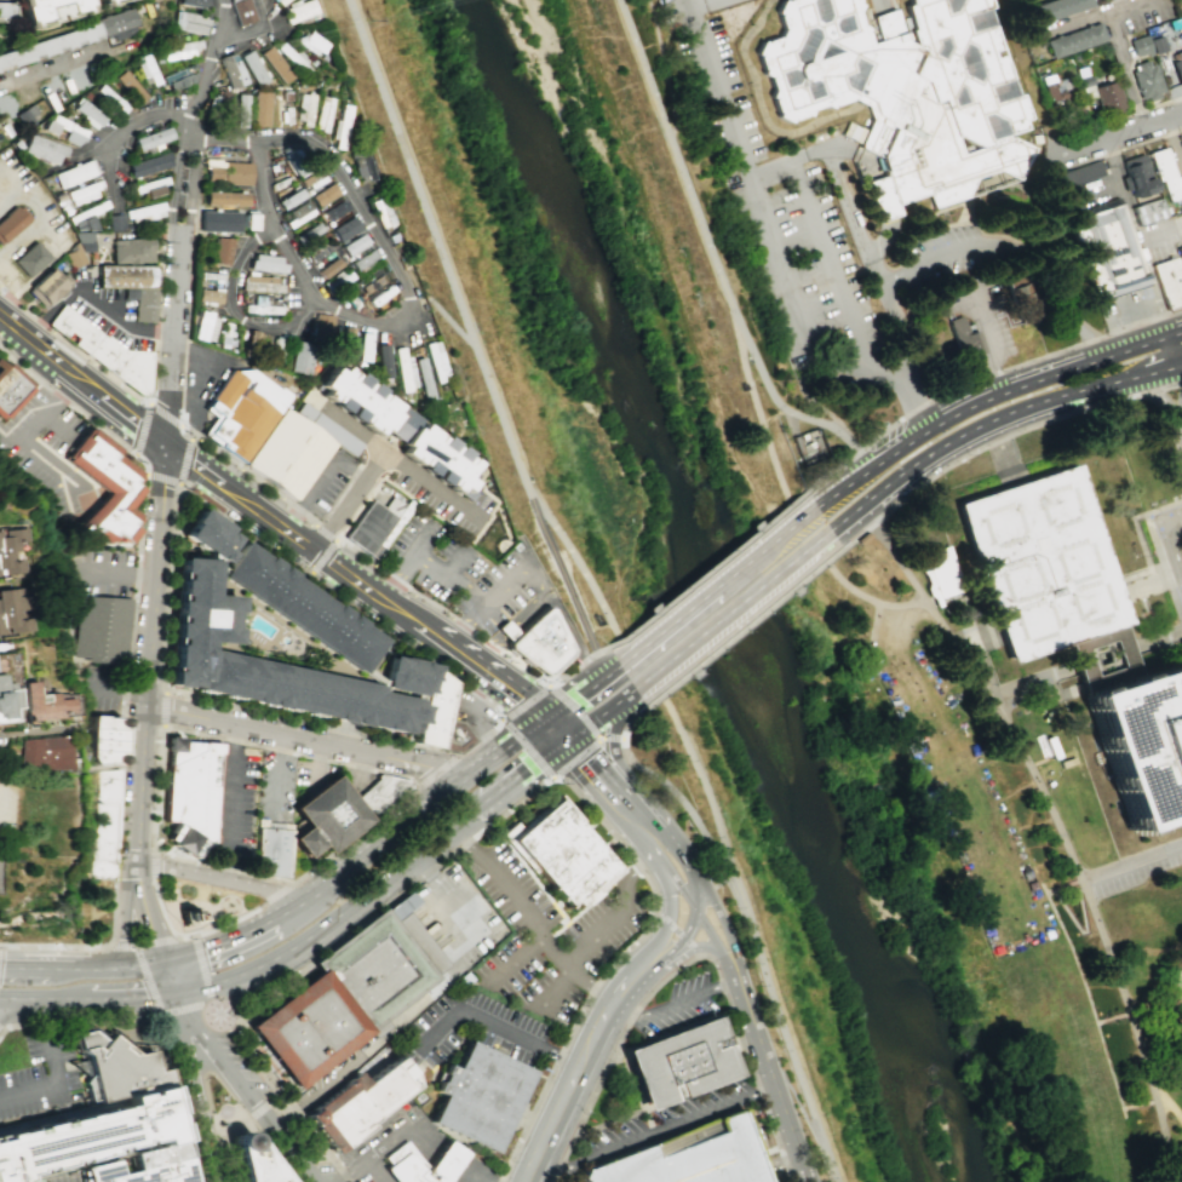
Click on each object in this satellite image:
building: (1107, 0)
building: (280, 1)
road: (699, 1)
building: (114, 2)
building: (194, 2)
road: (896, 2)
parking lot: (1181, 2)
road: (883, 6)
road: (1126, 6)
building: (1060, 8)
building: (299, 10)
building: (241, 11)
building: (8, 12)
building: (57, 12)
building: (189, 22)
building: (82, 35)
building: (1075, 39)
road: (1115, 40)
road: (222, 41)
building: (311, 42)
building: (1138, 45)
building: (1157, 45)
building: (180, 48)
building: (275, 63)
road: (51, 65)
building: (1177, 65)
building: (252, 67)
building: (145, 69)
building: (231, 69)
road: (662, 69)
building: (1144, 79)
building: (127, 86)
road: (723, 86)
building: (1055, 92)
building: (907, 93)
building: (1107, 97)
building: (260, 108)
building: (305, 108)
building: (241, 110)
road: (1141, 110)
building: (323, 113)
building: (86, 114)
building: (28, 117)
building: (340, 127)
building: (65, 130)
road: (121, 132)
road: (188, 132)
building: (853, 133)
road: (1118, 133)
building: (150, 139)
road: (1172, 145)
building: (41, 149)
road: (1117, 149)
road: (348, 159)
road: (1112, 161)
building: (148, 163)
building: (362, 165)
building: (228, 172)
building: (74, 173)
building: (1164, 173)
building: (314, 178)
road: (1104, 190)
building: (85, 191)
building: (322, 194)
road: (847, 195)
building: (224, 197)
building: (289, 197)
building: (334, 210)
building: (1148, 210)
building: (143, 212)
building: (298, 212)
building: (381, 212)
road: (1129, 213)
building: (12, 220)
building: (218, 220)
building: (344, 228)
building: (81, 231)
building: (306, 233)
road: (819, 234)
road: (1160, 235)
parking lot: (1161, 239)
building: (352, 243)
road: (438, 247)
building: (130, 249)
building: (219, 251)
building: (1111, 252)
road: (390, 256)
building: (30, 257)
parking lot: (880, 258)
building: (1181, 258)
building: (363, 259)
building: (265, 263)
road: (233, 265)
building: (328, 266)
road: (1046, 276)
building: (128, 277)
building: (260, 282)
building: (1169, 282)
building: (371, 283)
building: (47, 285)
road: (1154, 288)
building: (207, 295)
building: (1019, 295)
parking lot: (1129, 306)
road: (1138, 309)
road: (444, 316)
road: (155, 319)
road: (187, 319)
road: (7, 322)
building: (321, 323)
building: (205, 326)
road: (174, 331)
building: (345, 338)
road: (983, 338)
building: (963, 339)
building: (362, 346)
road: (1174, 348)
building: (103, 350)
road: (70, 351)
road: (45, 354)
building: (300, 357)
building: (381, 361)
building: (435, 361)
building: (403, 368)
road: (982, 378)
building: (423, 379)
building: (11, 389)
road: (987, 397)
road: (1160, 397)
building: (358, 398)
road: (918, 401)
road: (67, 402)
road: (780, 407)
road: (163, 412)
building: (242, 412)
road: (120, 415)
road: (993, 418)
road: (39, 419)
road: (57, 424)
road: (792, 424)
road: (1166, 425)
road: (142, 426)
road: (185, 426)
building: (400, 426)
parking lot: (1177, 428)
road: (999, 440)
parking lot: (46, 448)
traffic signals: (166, 452)
road: (1005, 453)
building: (289, 454)
road: (185, 458)
road: (400, 458)
building: (438, 458)
road: (379, 460)
road: (143, 461)
road: (199, 467)
road: (48, 470)
road: (252, 476)
road: (161, 478)
road: (319, 481)
parking lot: (328, 482)
parking lot: (328, 483)
building: (104, 484)
road: (222, 494)
parking lot: (442, 497)
road: (362, 503)
road: (257, 510)
road: (343, 511)
building: (377, 524)
park: (689, 524)
road: (325, 528)
building: (205, 534)
parking lot: (1172, 539)
road: (1169, 543)
road: (1155, 545)
building: (10, 551)
road: (1143, 552)
flagpole: (1134, 553)
road: (322, 556)
road: (889, 556)
building: (1039, 563)
road: (411, 568)
parking lot: (109, 572)
road: (340, 572)
parking lot: (463, 572)
road: (707, 572)
road: (126, 573)
parking lot: (464, 574)
road: (562, 574)
building: (941, 574)
road: (540, 583)
road: (715, 584)
road: (171, 587)
river: (698, 596)
road: (862, 597)
road: (476, 604)
road: (442, 609)
road: (530, 610)
road: (733, 610)
building: (12, 612)
road: (363, 615)
road: (566, 624)
building: (504, 627)
road: (744, 629)
building: (109, 630)
road: (466, 630)
road: (507, 631)
building: (340, 635)
road: (870, 636)
road: (1155, 638)
building: (539, 639)
road: (487, 649)
road: (602, 649)
building: (1103, 659)
road: (471, 664)
road: (572, 669)
road: (647, 670)
road: (125, 689)
parking lot: (109, 690)
road: (578, 690)
building: (7, 700)
building: (44, 705)
road: (128, 707)
building: (435, 708)
road: (163, 711)
parking lot: (471, 711)
road: (621, 712)
road: (597, 713)
road: (472, 716)
traffic signals: (541, 718)
road: (631, 721)
road: (505, 722)
road: (150, 723)
road: (314, 723)
road: (551, 729)
road: (38, 730)
building: (457, 735)
road: (612, 736)
building: (109, 739)
road: (308, 740)
traffic signals: (562, 740)
building: (1142, 745)
road: (257, 746)
building: (44, 753)
road: (316, 761)
road: (612, 767)
road: (361, 768)
road: (361, 768)
road: (590, 768)
road: (137, 769)
road: (279, 770)
road: (440, 771)
parking lot: (309, 775)
road: (396, 775)
parking lot: (358, 780)
building: (191, 785)
parking lot: (276, 786)
building: (111, 787)
road: (157, 791)
building: (384, 793)
road: (495, 793)
road: (679, 799)
road: (586, 801)
road: (233, 802)
road: (625, 807)
road: (424, 809)
parking lot: (237, 810)
parking lot: (7, 813)
building: (326, 816)
building: (107, 832)
road: (355, 836)
park: (40, 837)
road: (673, 844)
road: (648, 845)
building: (271, 850)
building: (557, 853)
park: (1010, 860)
road: (1130, 860)
road: (153, 863)
road: (222, 867)
building: (104, 870)
building: (0, 873)
parking lot: (1130, 876)
road: (223, 878)
road: (724, 879)
road: (277, 891)
road: (682, 891)
road: (1048, 891)
road: (98, 896)
road: (509, 899)
road: (698, 899)
road: (199, 905)
park: (96, 912)
parking lot: (454, 914)
road: (460, 914)
road: (620, 914)
fountain: (189, 917)
road: (92, 923)
road: (128, 925)
road: (163, 925)
road: (692, 925)
road: (724, 929)
road: (707, 931)
road: (1084, 931)
building: (413, 933)
road: (677, 933)
road: (308, 935)
road: (664, 935)
parking lot: (545, 936)
road: (240, 941)
road: (681, 945)
road: (122, 946)
road: (56, 947)
road: (698, 948)
road: (687, 960)
traffic signals: (163, 964)
road: (520, 965)
road: (728, 965)
road: (650, 966)
road: (39, 968)
road: (200, 968)
road: (121, 969)
park: (1180, 982)
road: (148, 983)
road: (589, 985)
traffic signals: (170, 989)
road: (556, 989)
road: (616, 994)
road: (105, 995)
road: (13, 998)
road: (34, 998)
building: (342, 998)
road: (1088, 998)
road: (230, 1000)
road: (673, 1005)
parking lot: (677, 1006)
road: (13, 1009)
road: (160, 1019)
road: (782, 1023)
road: (2, 1028)
parking lot: (478, 1028)
road: (500, 1032)
road: (365, 1052)
parking lot: (241, 1062)
road: (270, 1063)
building: (687, 1063)
building: (115, 1067)
road: (263, 1068)
road: (57, 1072)
parking lot: (41, 1078)
road: (771, 1080)
road: (299, 1084)
road: (194, 1085)
road: (569, 1094)
building: (476, 1095)
road: (243, 1096)
building: (356, 1104)
park: (356, 1104)
road: (287, 1106)
road: (268, 1112)
parking lot: (671, 1117)
road: (402, 1123)
road: (213, 1124)
road: (653, 1130)
building: (85, 1132)
road: (1161, 1135)
road: (206, 1140)
parking lot: (371, 1148)
road: (275, 1154)
building: (688, 1157)
parking garage: (688, 1157)
road: (443, 1159)
building: (251, 1160)
road: (233, 1161)
building: (418, 1164)
building: (151, 1167)
road: (785, 1167)
road: (348, 1169)
road: (374, 1169)
road: (463, 1174)
parking lot: (65, 1177)

